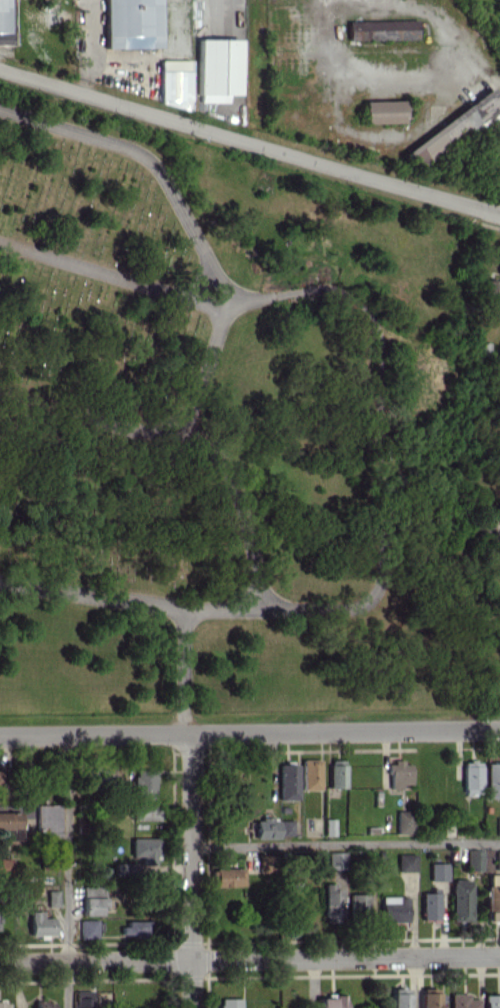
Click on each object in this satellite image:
building: (5, 22)
building: (132, 23)
building: (382, 30)
road: (93, 53)
building: (217, 69)
road: (418, 79)
building: (175, 83)
building: (383, 111)
building: (454, 128)
road: (250, 136)
road: (158, 169)
road: (200, 284)
building: (491, 292)
road: (370, 318)
road: (208, 355)
road: (175, 419)
road: (194, 422)
park: (225, 427)
road: (190, 435)
road: (132, 601)
road: (183, 671)
road: (249, 732)
building: (336, 773)
building: (398, 773)
building: (310, 774)
building: (471, 776)
building: (2, 779)
building: (492, 780)
building: (143, 782)
building: (287, 782)
building: (143, 811)
building: (47, 820)
building: (403, 822)
building: (10, 824)
building: (329, 826)
building: (497, 826)
building: (265, 827)
building: (285, 827)
road: (345, 843)
building: (144, 849)
building: (473, 859)
building: (497, 859)
building: (336, 860)
building: (266, 862)
building: (405, 862)
building: (3, 867)
building: (123, 868)
road: (191, 870)
road: (67, 871)
building: (438, 871)
building: (228, 876)
building: (492, 898)
building: (460, 899)
building: (331, 903)
building: (358, 903)
building: (429, 904)
building: (393, 909)
building: (40, 924)
building: (89, 928)
building: (134, 928)
road: (249, 959)
building: (400, 998)
building: (92, 999)
building: (428, 999)
building: (331, 1001)
building: (462, 1001)
building: (492, 1001)
building: (230, 1003)
building: (4, 1004)
building: (43, 1004)

